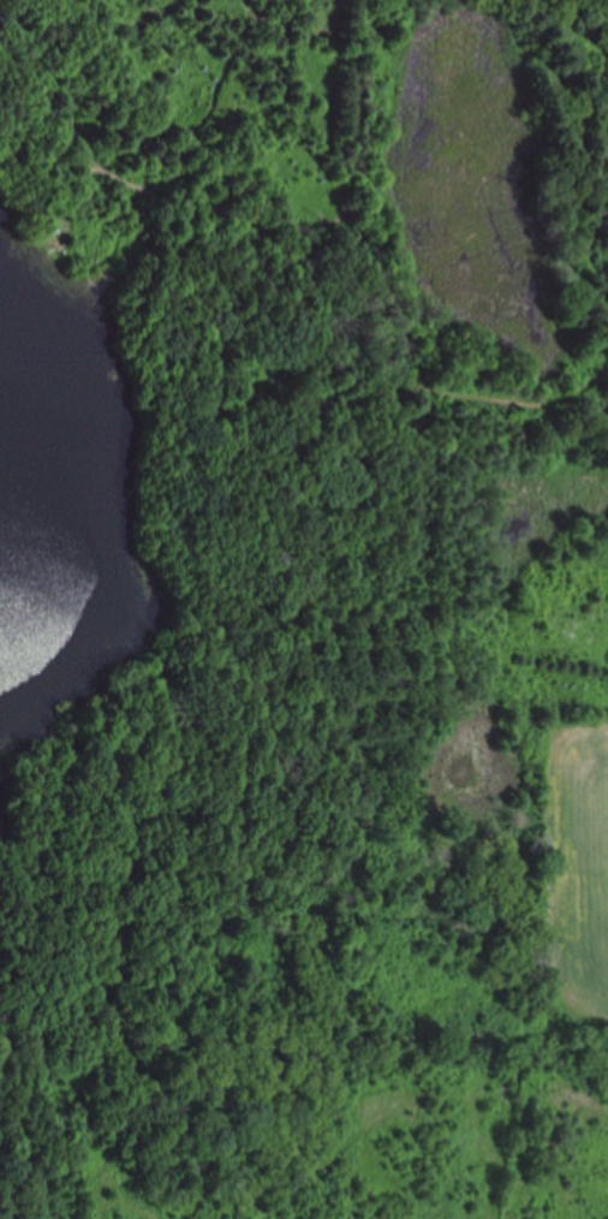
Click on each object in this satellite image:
crop: (571, 864)

